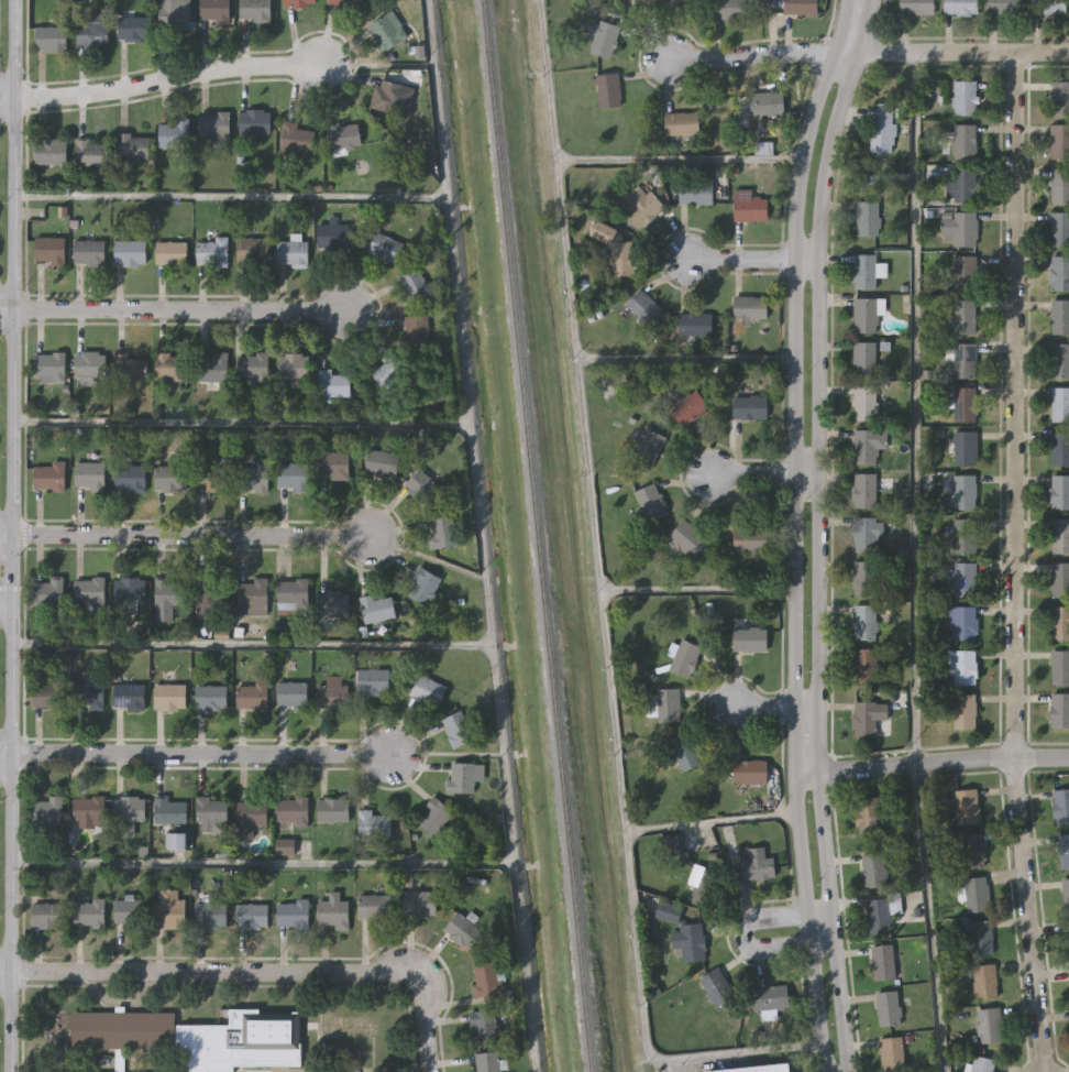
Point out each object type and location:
building: (657, 2)
building: (299, 3)
building: (348, 3)
building: (800, 7)
building: (916, 7)
building: (1004, 7)
building: (1048, 7)
building: (960, 8)
building: (214, 10)
building: (254, 10)
building: (728, 10)
building: (175, 14)
building: (133, 28)
building: (387, 31)
building: (92, 34)
building: (51, 39)
building: (603, 39)
road: (951, 52)
road: (749, 55)
road: (164, 77)
building: (608, 91)
building: (388, 96)
building: (963, 98)
building: (1060, 99)
building: (765, 105)
building: (254, 121)
building: (681, 123)
building: (214, 124)
building: (883, 128)
building: (174, 133)
building: (296, 136)
building: (344, 136)
building: (963, 142)
building: (1059, 142)
building: (133, 146)
building: (51, 151)
building: (93, 152)
road: (603, 160)
building: (963, 184)
building: (1060, 186)
building: (695, 193)
road: (230, 196)
building: (640, 206)
building: (749, 206)
building: (53, 212)
building: (867, 218)
building: (1059, 229)
building: (959, 230)
building: (334, 237)
building: (385, 248)
building: (252, 249)
building: (617, 249)
building: (48, 250)
building: (89, 252)
building: (130, 252)
building: (172, 252)
building: (212, 252)
building: (291, 252)
road: (748, 258)
building: (864, 272)
building: (963, 273)
building: (1059, 273)
building: (415, 285)
building: (643, 307)
road: (175, 308)
building: (749, 308)
building: (864, 316)
building: (963, 317)
building: (1060, 317)
building: (694, 325)
building: (417, 330)
road: (589, 354)
building: (863, 360)
building: (963, 361)
building: (1060, 361)
building: (90, 363)
park: (1, 365)
building: (172, 365)
building: (253, 365)
building: (294, 365)
building: (213, 367)
building: (49, 368)
building: (132, 368)
building: (389, 370)
building: (332, 384)
building: (863, 403)
building: (965, 405)
building: (1059, 405)
building: (750, 407)
road: (917, 407)
building: (688, 408)
road: (240, 422)
building: (868, 445)
building: (648, 448)
building: (965, 449)
building: (1060, 449)
building: (381, 462)
building: (333, 464)
road: (761, 472)
building: (90, 474)
building: (49, 475)
building: (130, 477)
building: (293, 477)
building: (170, 478)
building: (212, 478)
building: (253, 479)
building: (422, 488)
building: (863, 491)
building: (963, 492)
building: (1059, 492)
building: (650, 502)
building: (442, 532)
road: (797, 533)
road: (816, 533)
road: (185, 534)
road: (9, 535)
road: (482, 535)
railway: (537, 535)
building: (868, 535)
building: (963, 536)
building: (1060, 536)
building: (687, 538)
building: (754, 539)
road: (598, 561)
road: (1013, 562)
building: (863, 579)
building: (963, 580)
building: (1059, 580)
building: (423, 586)
building: (130, 590)
building: (47, 592)
building: (89, 592)
building: (252, 593)
building: (293, 593)
building: (167, 598)
building: (208, 598)
road: (4, 603)
building: (333, 603)
building: (377, 608)
building: (864, 622)
building: (961, 624)
building: (1060, 624)
building: (749, 641)
road: (251, 644)
building: (684, 659)
building: (961, 667)
building: (864, 668)
building: (1060, 668)
building: (373, 680)
building: (427, 690)
building: (89, 693)
building: (291, 693)
building: (48, 694)
building: (129, 694)
building: (169, 696)
building: (252, 696)
building: (332, 696)
building: (211, 697)
road: (773, 704)
building: (662, 705)
building: (961, 711)
building: (1059, 711)
building: (869, 719)
building: (458, 728)
building: (685, 753)
road: (203, 754)
road: (4, 756)
road: (932, 762)
building: (750, 773)
building: (461, 776)
road: (621, 787)
building: (1061, 806)
building: (130, 807)
building: (967, 807)
building: (88, 808)
building: (293, 808)
building: (333, 808)
building: (170, 810)
building: (51, 811)
building: (212, 814)
building: (433, 814)
building: (867, 814)
building: (250, 816)
building: (373, 822)
building: (283, 841)
building: (971, 851)
building: (1064, 852)
road: (262, 862)
building: (756, 863)
building: (685, 865)
building: (874, 869)
building: (1066, 894)
building: (976, 895)
building: (421, 903)
building: (374, 905)
building: (172, 909)
building: (129, 910)
building: (333, 911)
building: (88, 912)
building: (293, 912)
building: (211, 914)
building: (670, 914)
building: (880, 914)
building: (47, 915)
building: (252, 915)
road: (932, 917)
building: (463, 929)
road: (743, 937)
building: (981, 938)
building: (1068, 939)
building: (690, 941)
building: (882, 961)
road: (195, 971)
building: (484, 977)
building: (984, 981)
building: (715, 986)
building: (769, 996)
building: (888, 1008)
road: (422, 1013)
road: (644, 1021)
building: (484, 1025)
building: (989, 1025)
building: (191, 1037)
building: (891, 1053)
building: (486, 1061)
building: (982, 1064)
building: (756, 1068)
building: (64, 1071)

